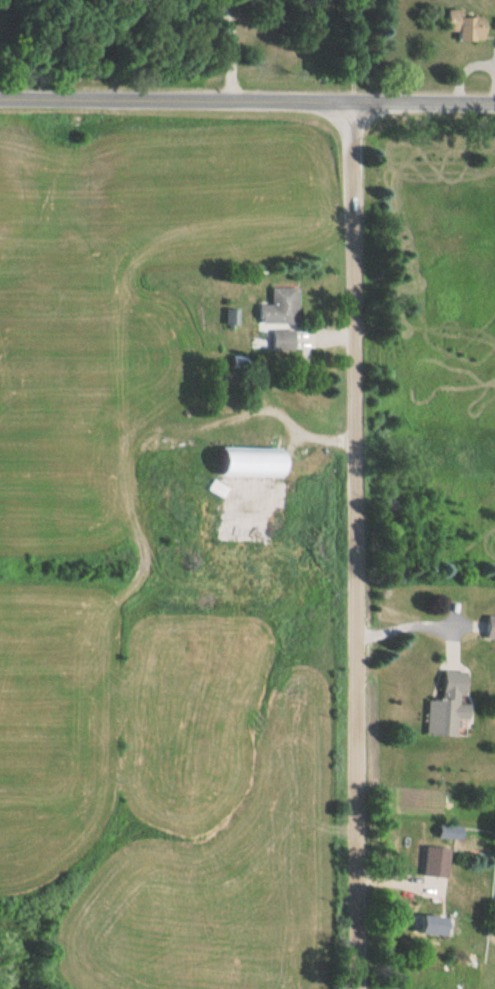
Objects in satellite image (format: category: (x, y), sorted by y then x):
building: (458, 27)
road: (229, 47)
road: (247, 97)
building: (272, 306)
building: (274, 339)
building: (238, 461)
building: (210, 489)
road: (353, 543)
building: (486, 628)
building: (441, 706)
building: (425, 861)
building: (423, 925)

